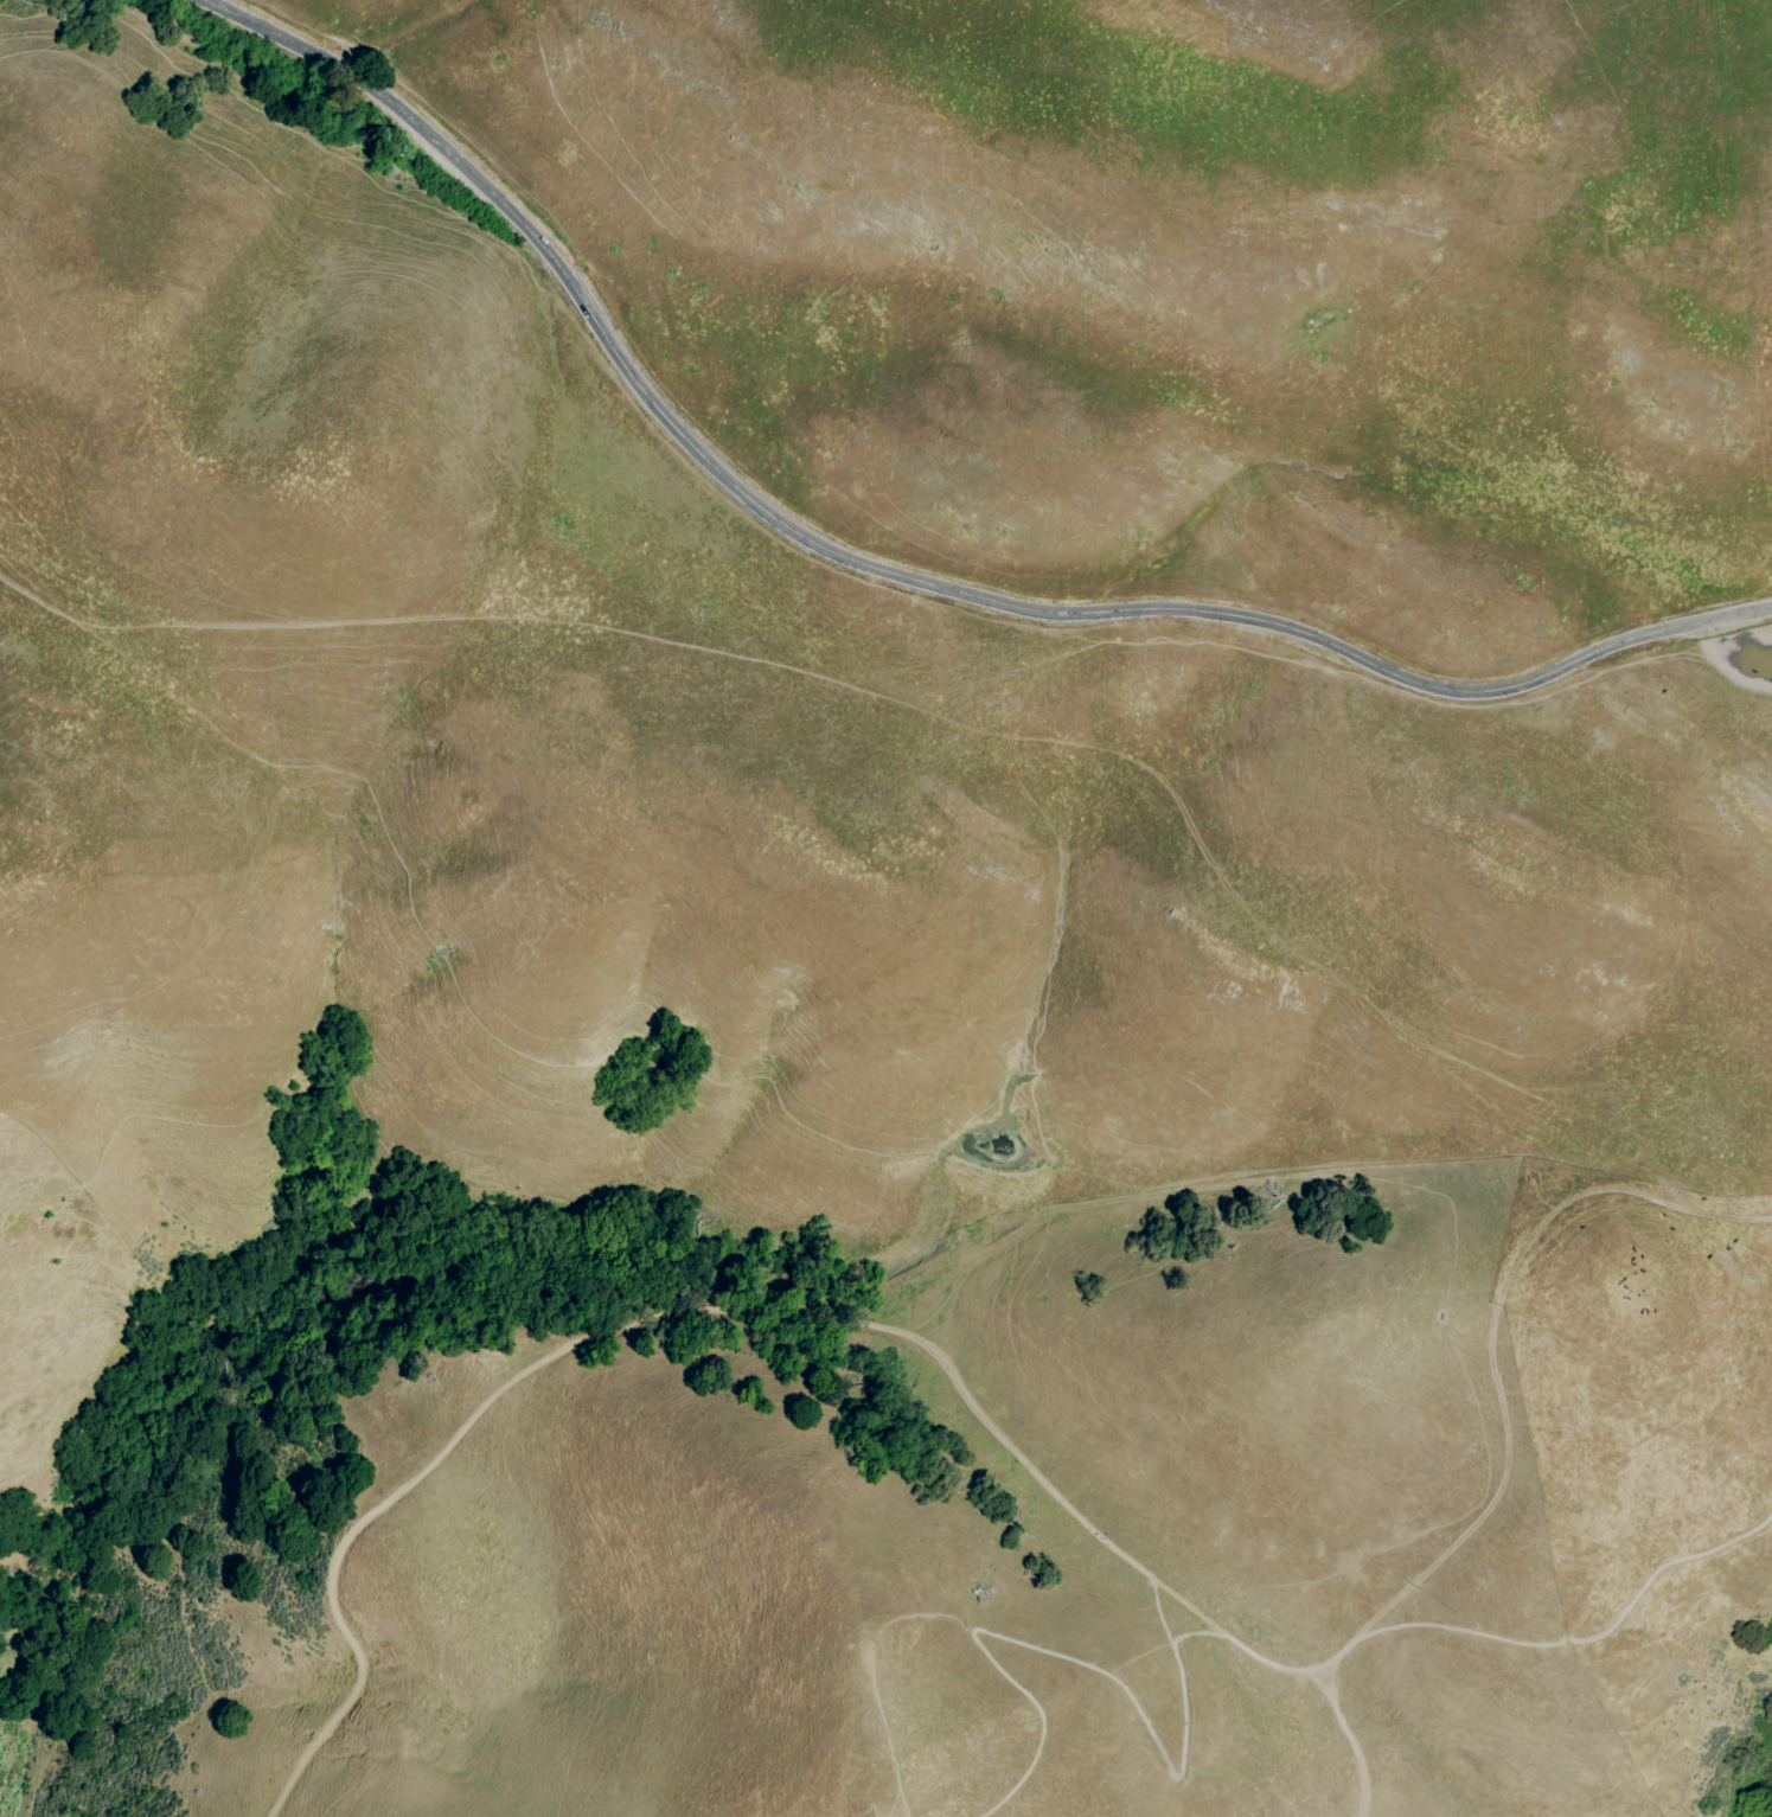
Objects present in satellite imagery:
road: (891, 575)
road: (702, 1314)
road: (1491, 1331)
road: (1552, 1634)
road: (1086, 1672)
road: (887, 1739)
road: (1349, 1740)

